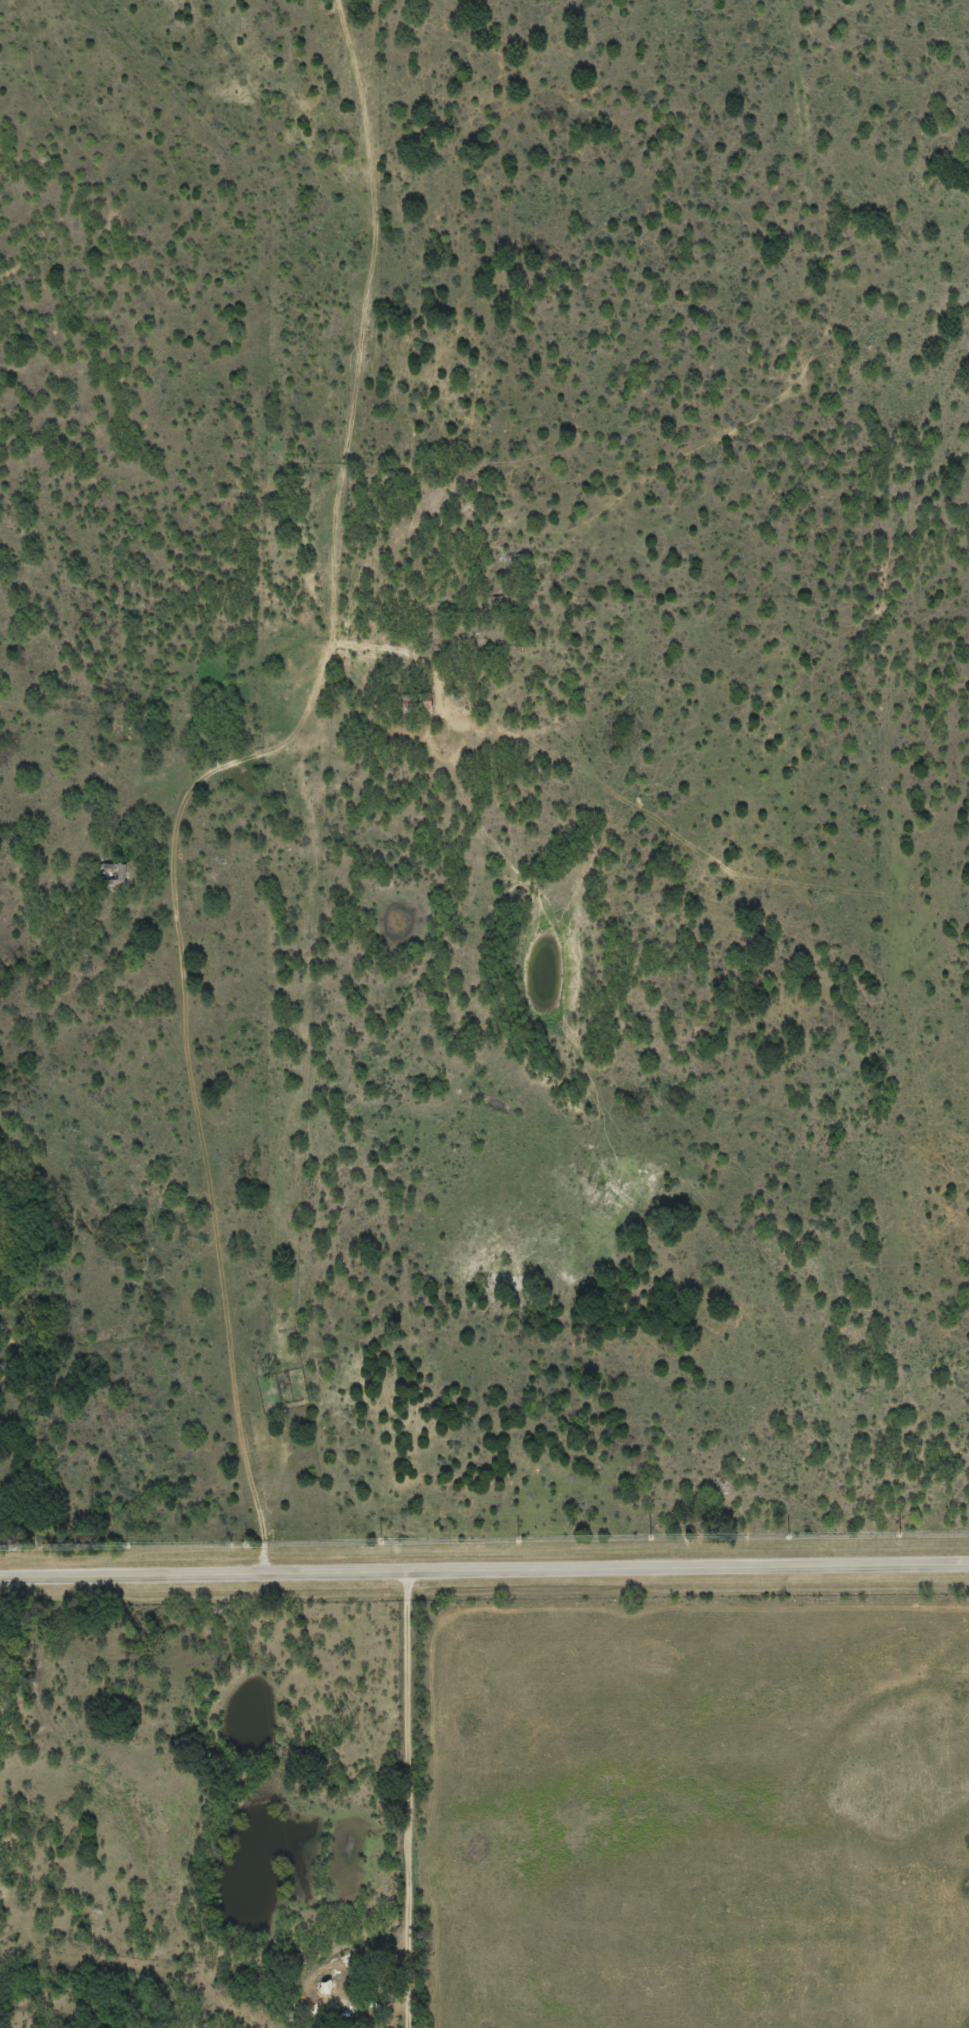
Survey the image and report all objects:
road: (484, 1574)
road: (409, 1801)
building: (327, 2003)

